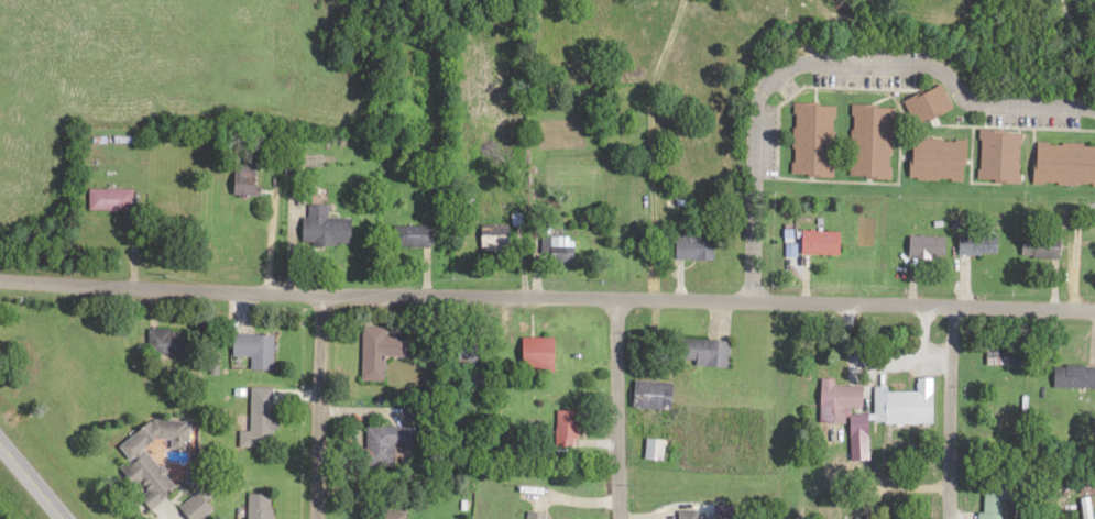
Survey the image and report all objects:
road: (824, 67)
building: (931, 108)
building: (817, 142)
building: (874, 144)
building: (1000, 159)
building: (941, 163)
building: (1065, 167)
building: (248, 184)
building: (111, 203)
building: (329, 230)
building: (415, 239)
building: (497, 240)
building: (823, 246)
building: (979, 246)
building: (697, 249)
building: (929, 250)
building: (1042, 250)
building: (565, 253)
road: (547, 302)
building: (168, 345)
building: (463, 351)
building: (256, 353)
building: (382, 354)
building: (709, 355)
building: (540, 360)
building: (1075, 379)
building: (655, 398)
building: (840, 404)
building: (906, 408)
road: (317, 409)
road: (616, 410)
road: (953, 415)
building: (262, 429)
building: (569, 431)
building: (858, 433)
building: (386, 446)
building: (656, 452)
road: (29, 483)
building: (153, 483)
building: (1087, 485)
building: (996, 504)
building: (199, 507)
building: (261, 508)
building: (1087, 509)
building: (392, 516)
building: (690, 516)
building: (538, 517)

